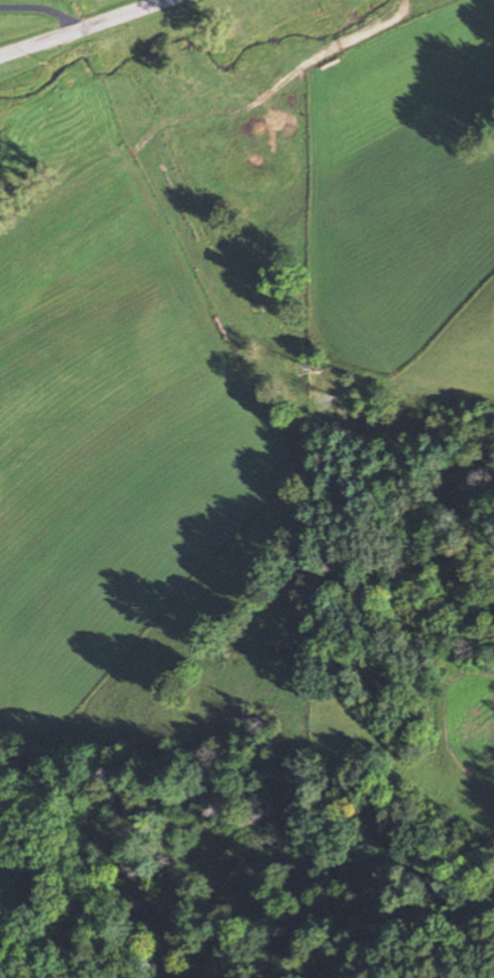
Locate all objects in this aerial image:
road: (42, 2)
road: (75, 25)

